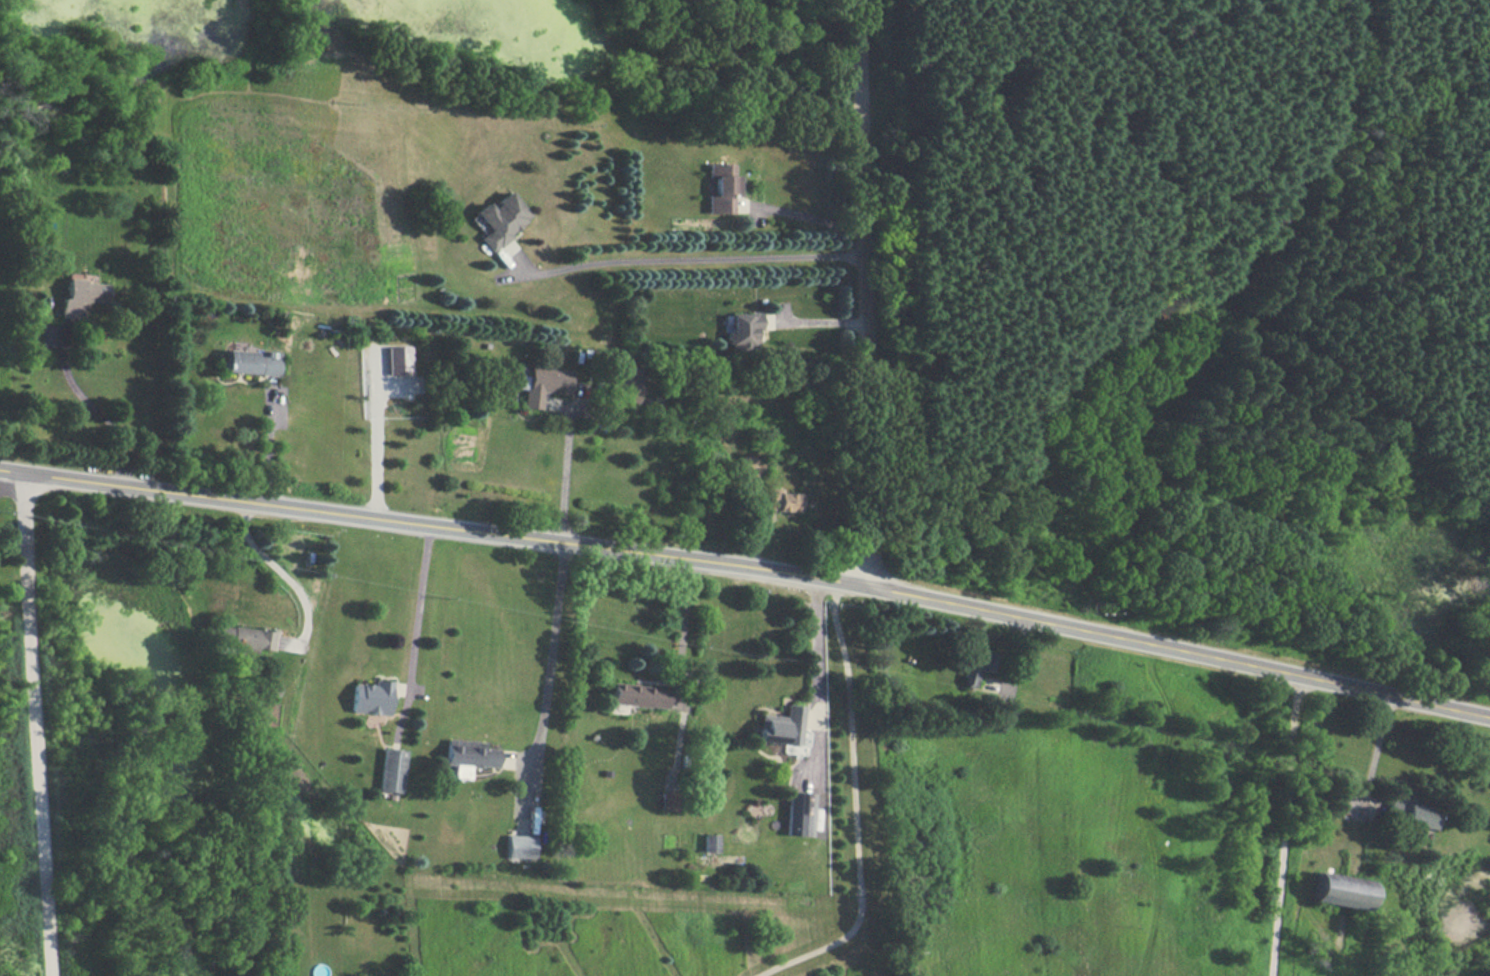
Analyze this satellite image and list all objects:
building: (718, 189)
building: (498, 220)
road: (812, 221)
road: (684, 261)
road: (871, 294)
building: (80, 295)
road: (818, 323)
building: (740, 331)
building: (397, 361)
building: (249, 364)
building: (621, 383)
building: (541, 385)
road: (96, 410)
road: (268, 448)
building: (749, 467)
road: (564, 475)
road: (11, 483)
building: (781, 501)
road: (749, 569)
road: (281, 574)
road: (419, 606)
road: (684, 632)
building: (264, 643)
building: (975, 670)
road: (817, 671)
road: (550, 673)
building: (633, 696)
building: (368, 698)
road: (37, 724)
building: (778, 727)
road: (1378, 747)
building: (468, 757)
building: (389, 771)
road: (854, 807)
building: (797, 815)
building: (1404, 815)
road: (1284, 825)
building: (708, 844)
building: (518, 849)
building: (1338, 887)

